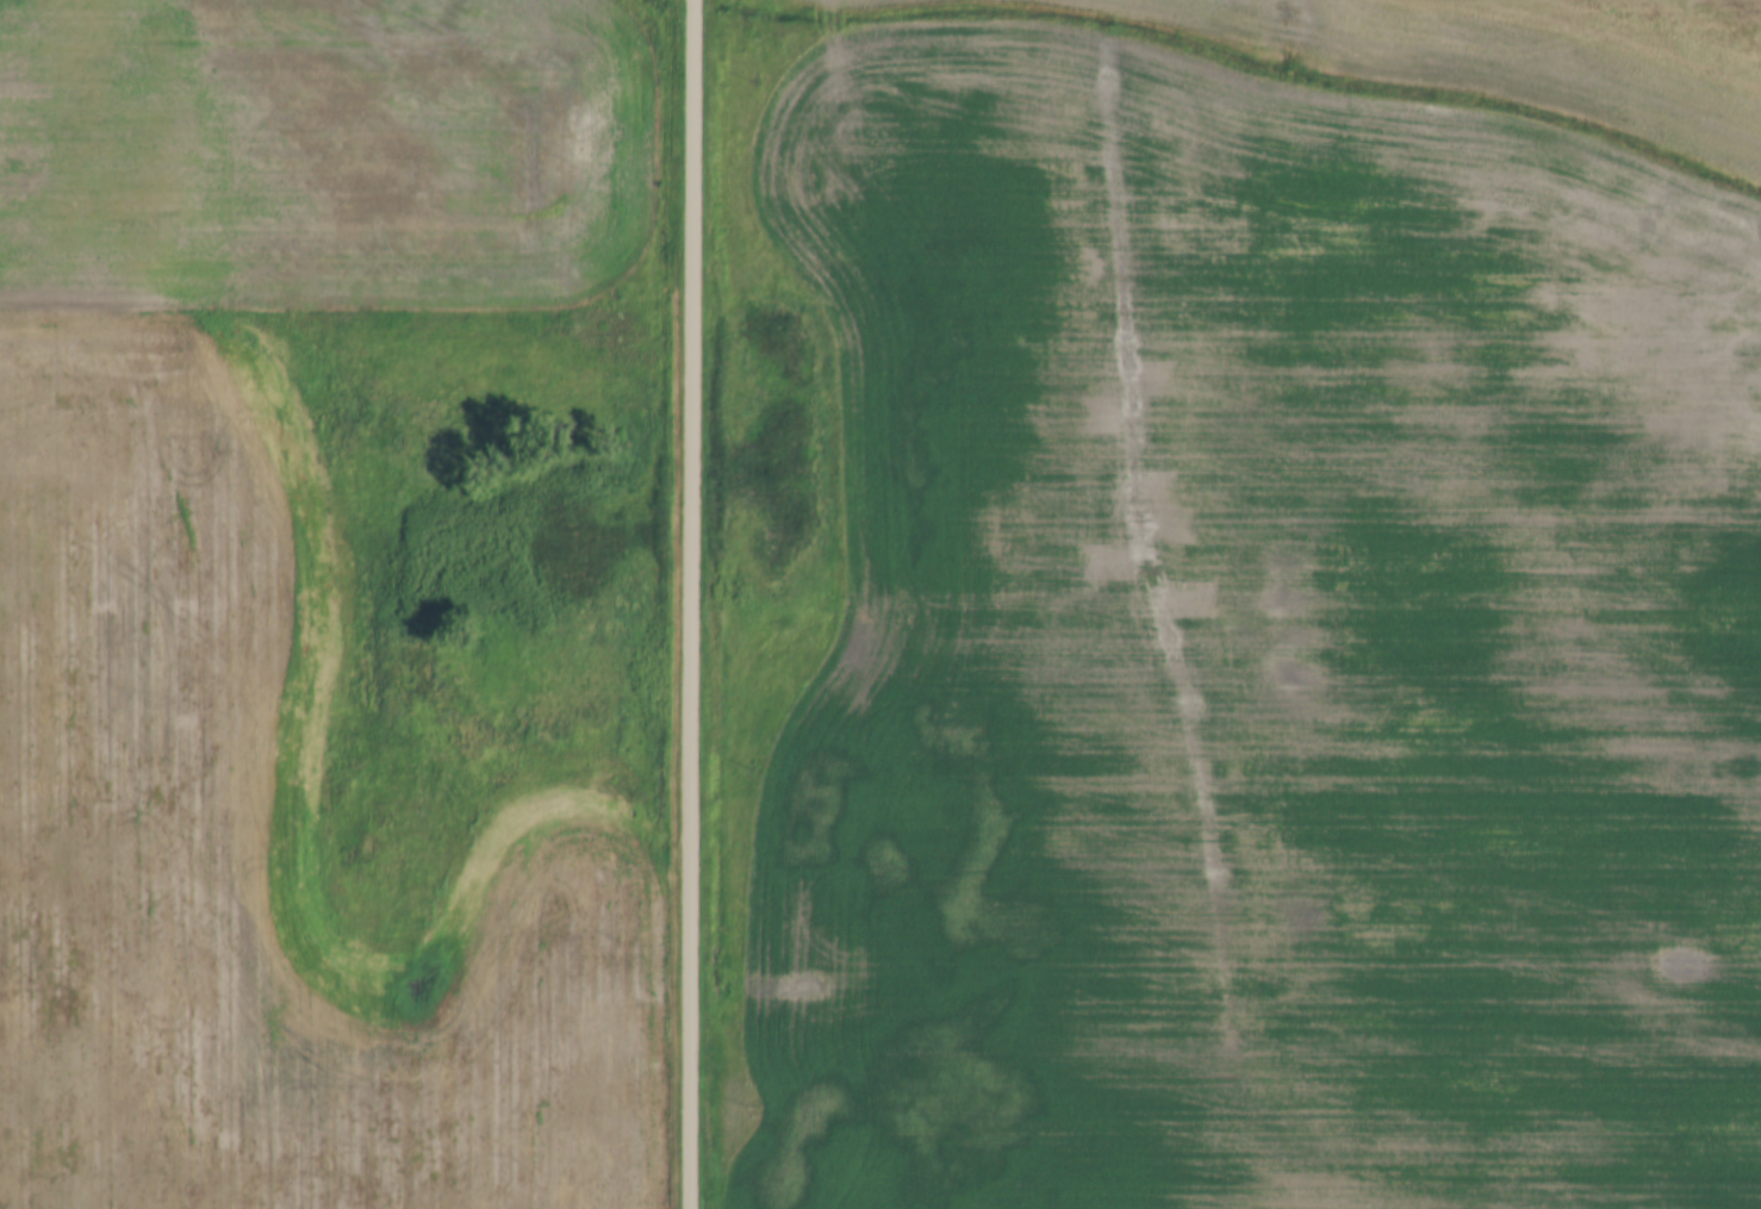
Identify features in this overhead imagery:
road: (693, 604)

